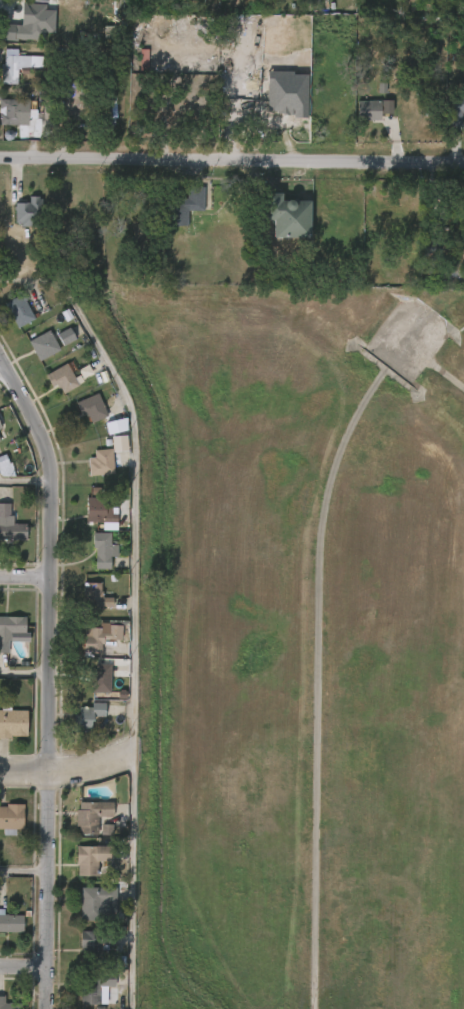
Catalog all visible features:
building: (31, 23)
building: (15, 65)
building: (131, 71)
building: (455, 110)
building: (10, 112)
building: (356, 122)
road: (232, 163)
building: (184, 206)
building: (28, 212)
building: (281, 214)
building: (16, 223)
building: (435, 250)
building: (20, 311)
building: (8, 323)
building: (43, 343)
building: (32, 357)
road: (1, 367)
road: (450, 376)
building: (62, 379)
building: (51, 390)
building: (92, 408)
building: (81, 420)
building: (0, 426)
building: (101, 462)
building: (89, 474)
road: (26, 481)
building: (0, 486)
building: (98, 510)
building: (87, 522)
building: (11, 524)
building: (6, 543)
building: (103, 549)
building: (91, 562)
road: (27, 575)
building: (95, 594)
building: (83, 607)
road: (132, 607)
building: (11, 630)
building: (101, 638)
building: (89, 647)
road: (25, 668)
road: (50, 678)
building: (100, 678)
building: (90, 689)
building: (88, 716)
building: (12, 721)
building: (76, 727)
road: (66, 770)
building: (93, 815)
building: (11, 819)
building: (79, 827)
building: (94, 840)
building: (94, 857)
road: (27, 870)
building: (78, 870)
building: (95, 902)
building: (10, 923)
building: (5, 934)
building: (95, 943)
building: (83, 953)
road: (25, 969)
building: (89, 988)
building: (82, 996)
building: (8, 1004)

